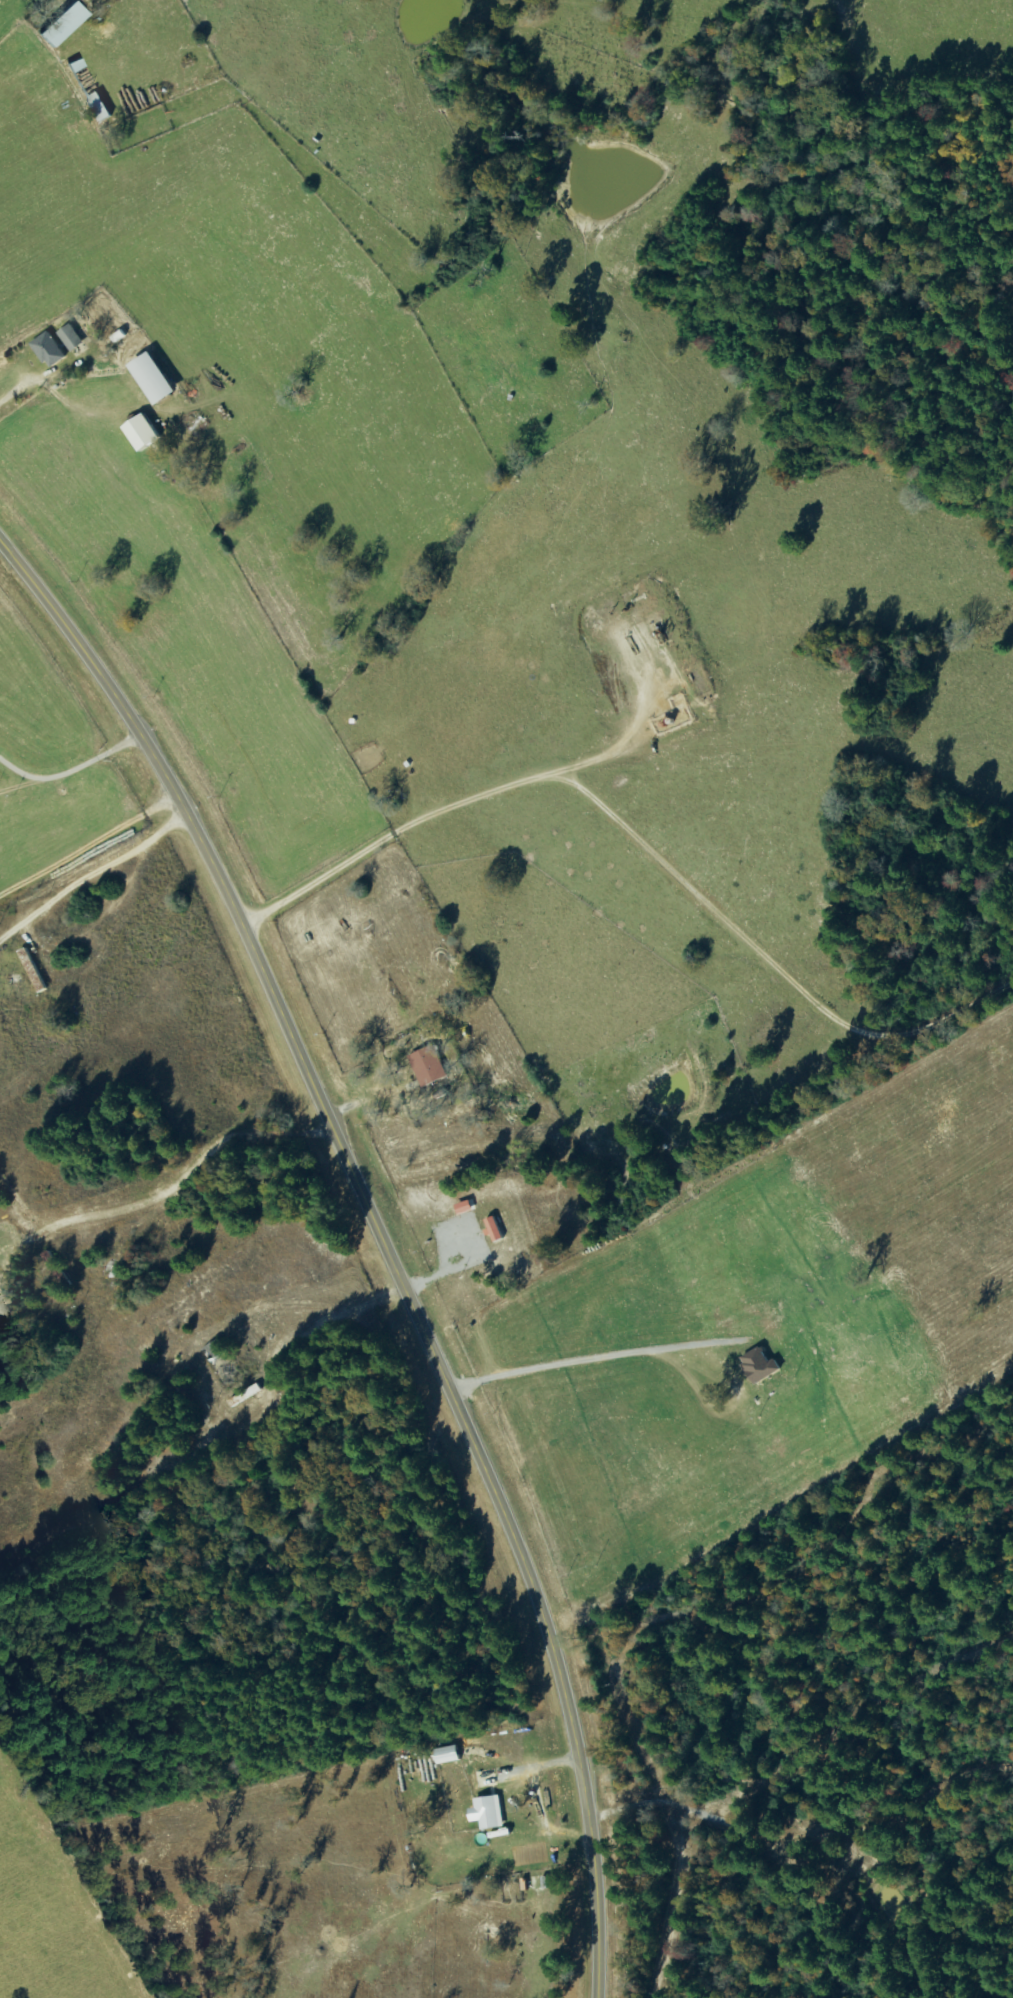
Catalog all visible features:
building: (66, 24)
building: (92, 90)
building: (73, 338)
building: (51, 350)
building: (159, 379)
building: (147, 433)
road: (84, 830)
building: (426, 1065)
building: (492, 1229)
road: (381, 1238)
building: (757, 1366)
building: (445, 1755)
building: (485, 1813)

